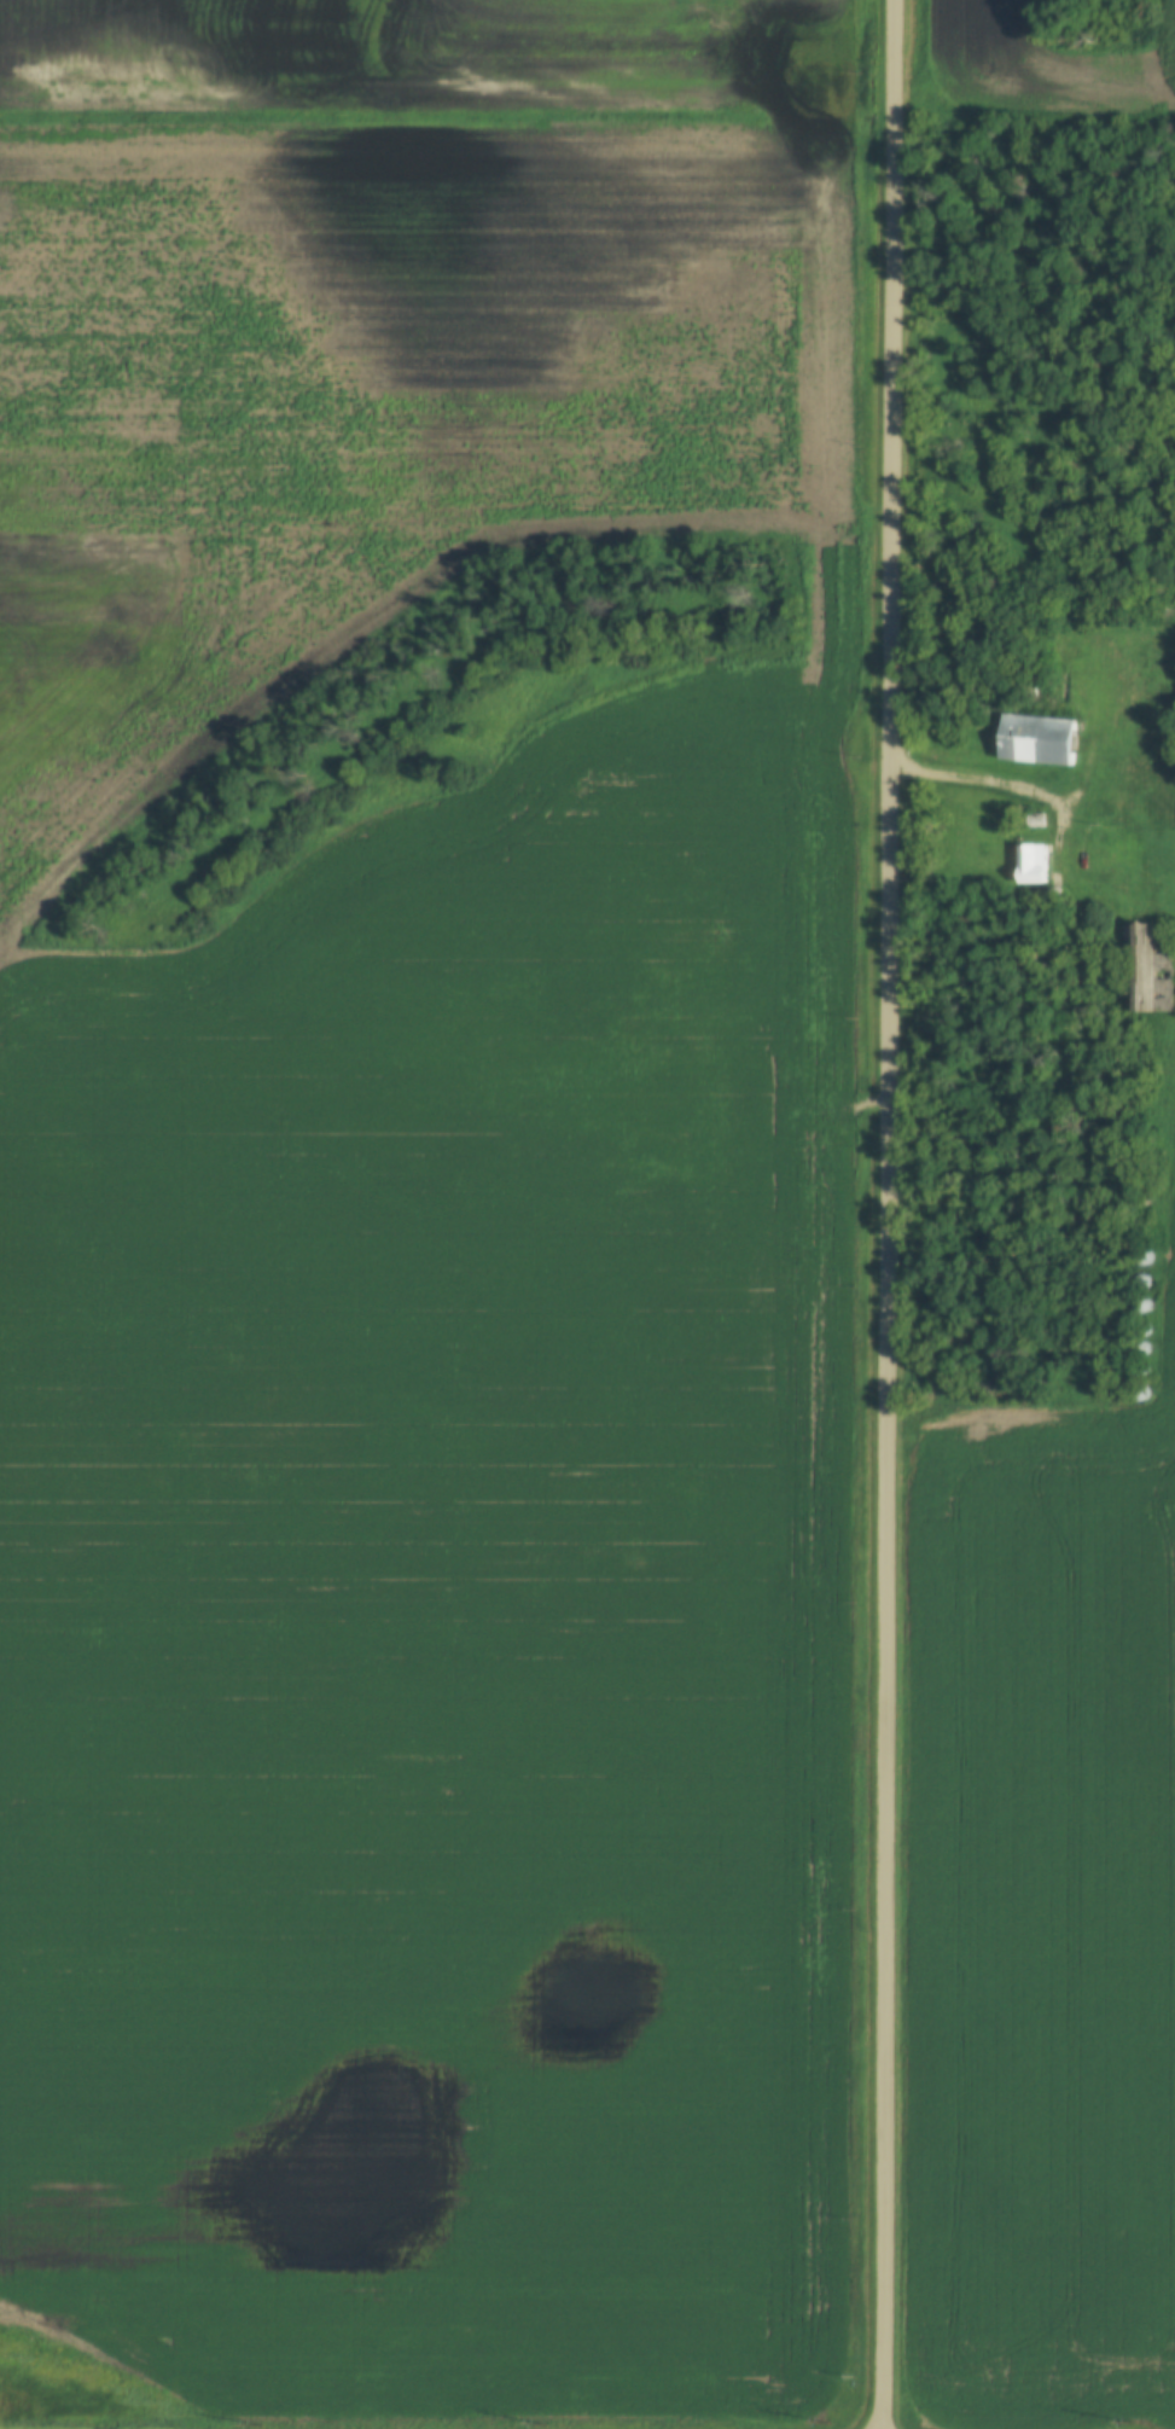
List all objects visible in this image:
crop: (1040, 57)
road: (1036, 101)
road: (378, 136)
building: (1037, 742)
road: (989, 781)
building: (1039, 823)
building: (1037, 864)
building: (1156, 969)
road: (886, 1214)
crop: (424, 1240)
building: (1146, 1254)
silo: (1146, 1254)
building: (1142, 1280)
silo: (1142, 1280)
building: (1144, 1302)
silo: (1144, 1302)
building: (1142, 1324)
silo: (1142, 1324)
building: (1141, 1344)
silo: (1141, 1344)
building: (1140, 1367)
silo: (1140, 1367)
building: (1141, 1389)
silo: (1141, 1389)
crop: (1040, 1916)

